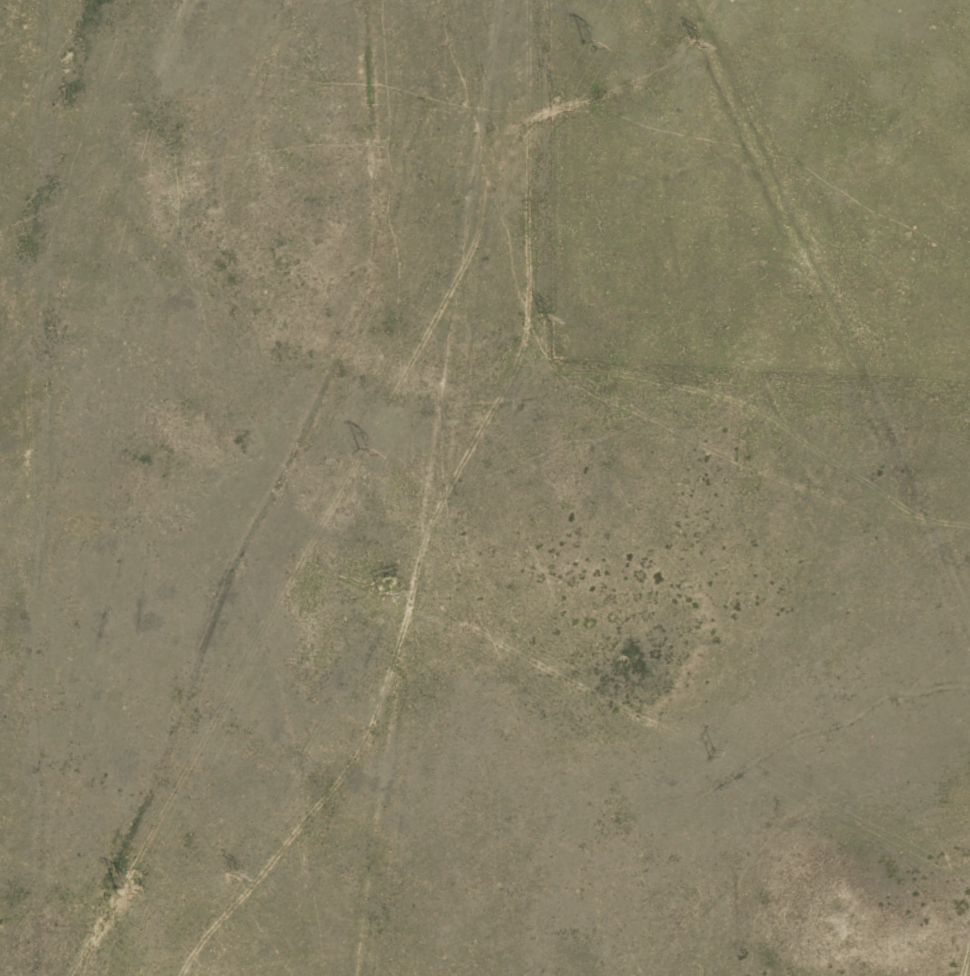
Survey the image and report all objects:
power tower: (692, 32)
power tower: (583, 45)
power tower: (537, 320)
road: (826, 337)
power tower: (360, 454)
road: (231, 491)
power tower: (386, 589)
power tower: (705, 752)
power tower: (232, 877)
power tower: (118, 890)

